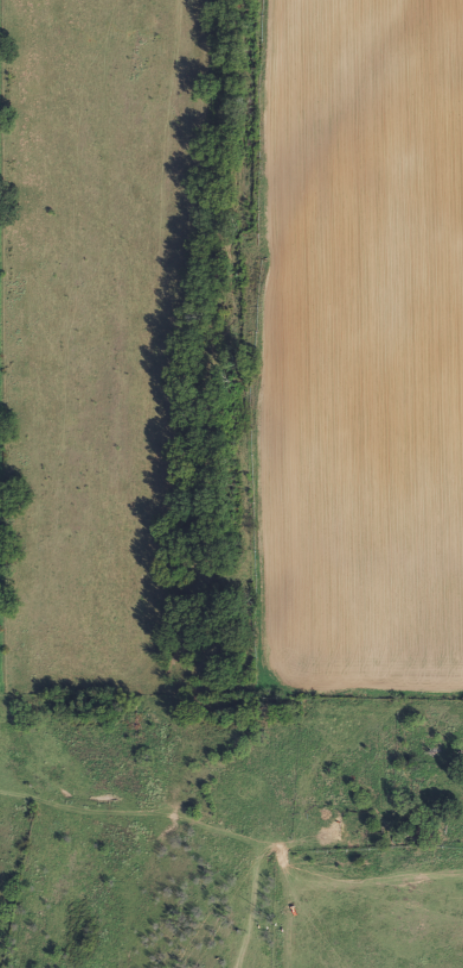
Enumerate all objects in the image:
road: (394, 727)

